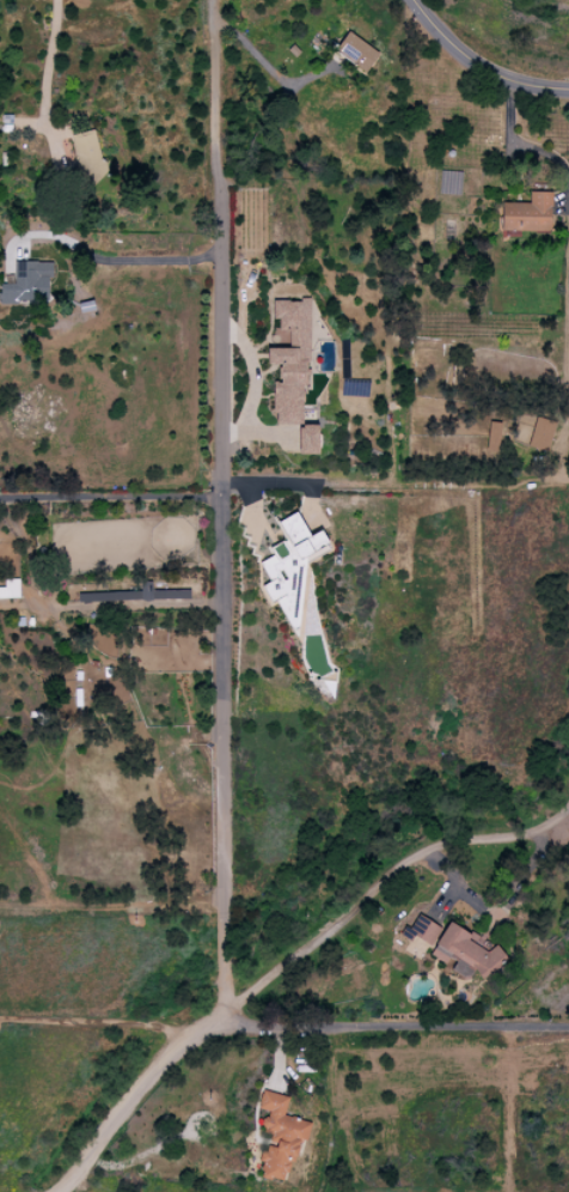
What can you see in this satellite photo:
building: (355, 50)
road: (481, 63)
road: (48, 65)
building: (87, 154)
building: (526, 213)
road: (145, 260)
building: (27, 282)
building: (289, 363)
road: (561, 431)
building: (540, 433)
building: (491, 436)
building: (306, 438)
road: (110, 497)
road: (220, 504)
building: (288, 554)
building: (10, 588)
building: (136, 596)
road: (377, 896)
building: (418, 932)
building: (465, 953)
road: (96, 1022)
road: (275, 1029)
building: (279, 1136)

